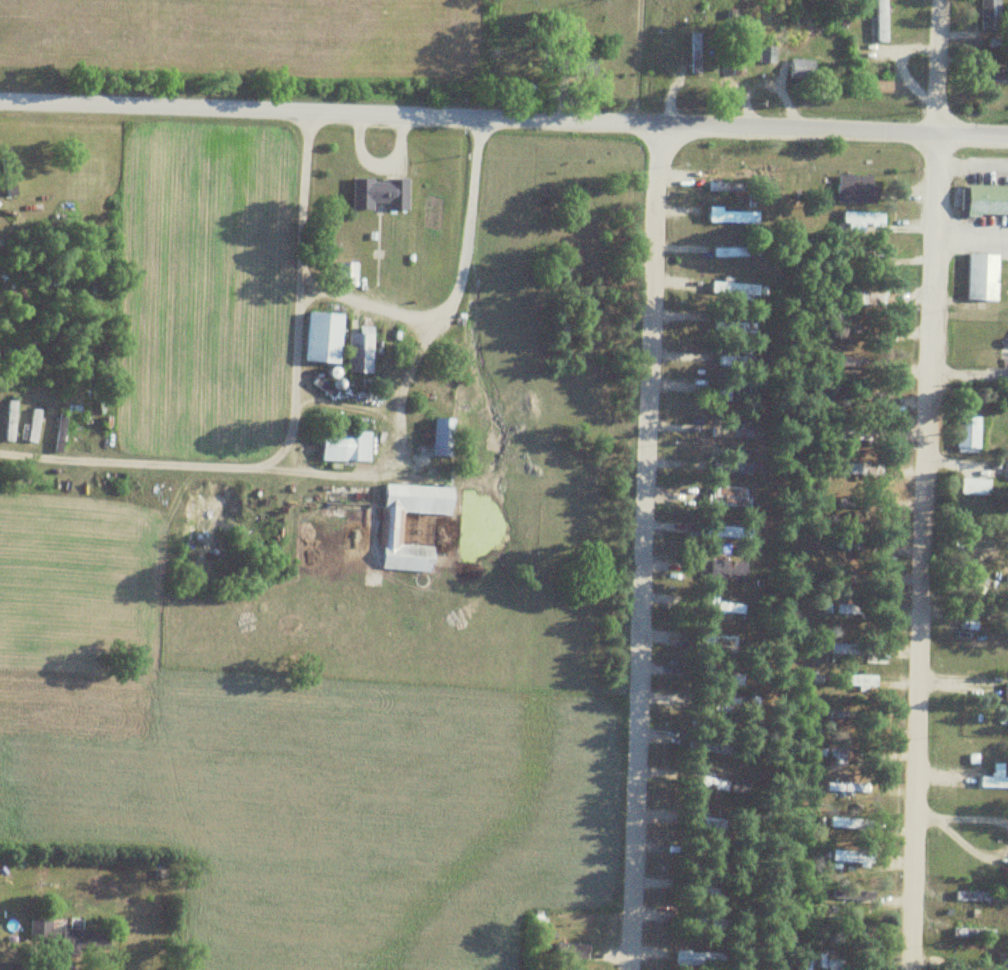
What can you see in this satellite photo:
building: (989, 15)
building: (880, 20)
building: (694, 53)
building: (765, 53)
building: (800, 68)
building: (996, 74)
road: (503, 120)
building: (725, 186)
building: (856, 189)
building: (379, 193)
building: (987, 199)
building: (731, 215)
building: (856, 220)
road: (968, 240)
building: (728, 251)
building: (346, 273)
building: (982, 276)
building: (737, 290)
building: (867, 294)
road: (364, 310)
building: (323, 337)
building: (359, 353)
building: (728, 360)
building: (9, 420)
building: (32, 426)
building: (95, 426)
building: (59, 432)
building: (742, 433)
building: (854, 434)
building: (967, 434)
building: (442, 436)
building: (354, 445)
building: (373, 448)
road: (347, 466)
building: (856, 469)
building: (147, 478)
road: (919, 484)
building: (974, 486)
building: (144, 494)
building: (729, 496)
building: (391, 529)
building: (726, 532)
road: (644, 548)
building: (727, 571)
building: (726, 607)
building: (844, 648)
building: (858, 680)
building: (1005, 692)
building: (837, 718)
building: (839, 754)
building: (994, 778)
building: (711, 782)
building: (850, 856)
building: (76, 941)
building: (570, 951)
building: (699, 960)
building: (833, 964)
building: (802, 969)

